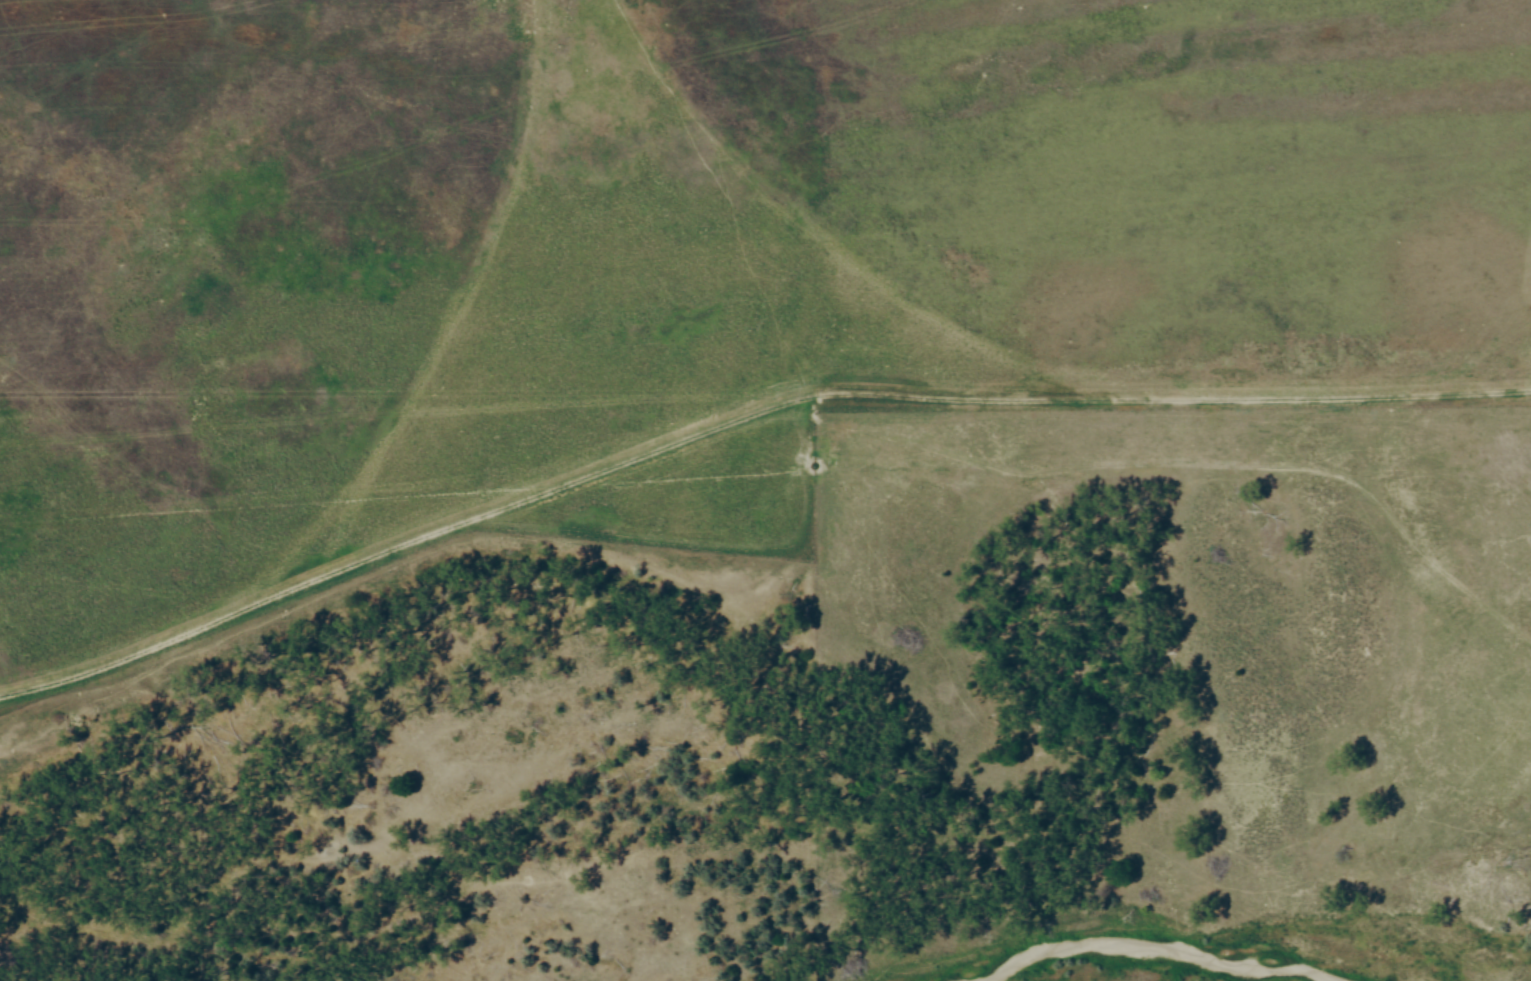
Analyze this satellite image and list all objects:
river: (1150, 947)

